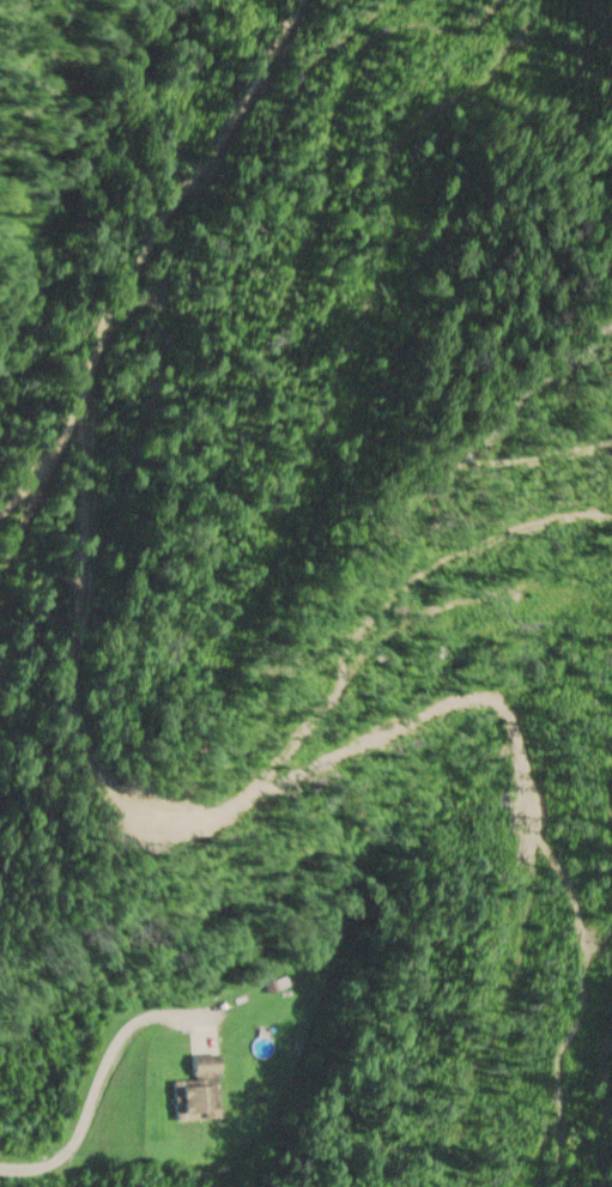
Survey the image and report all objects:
road: (140, 250)
road: (86, 1092)
building: (194, 1092)

